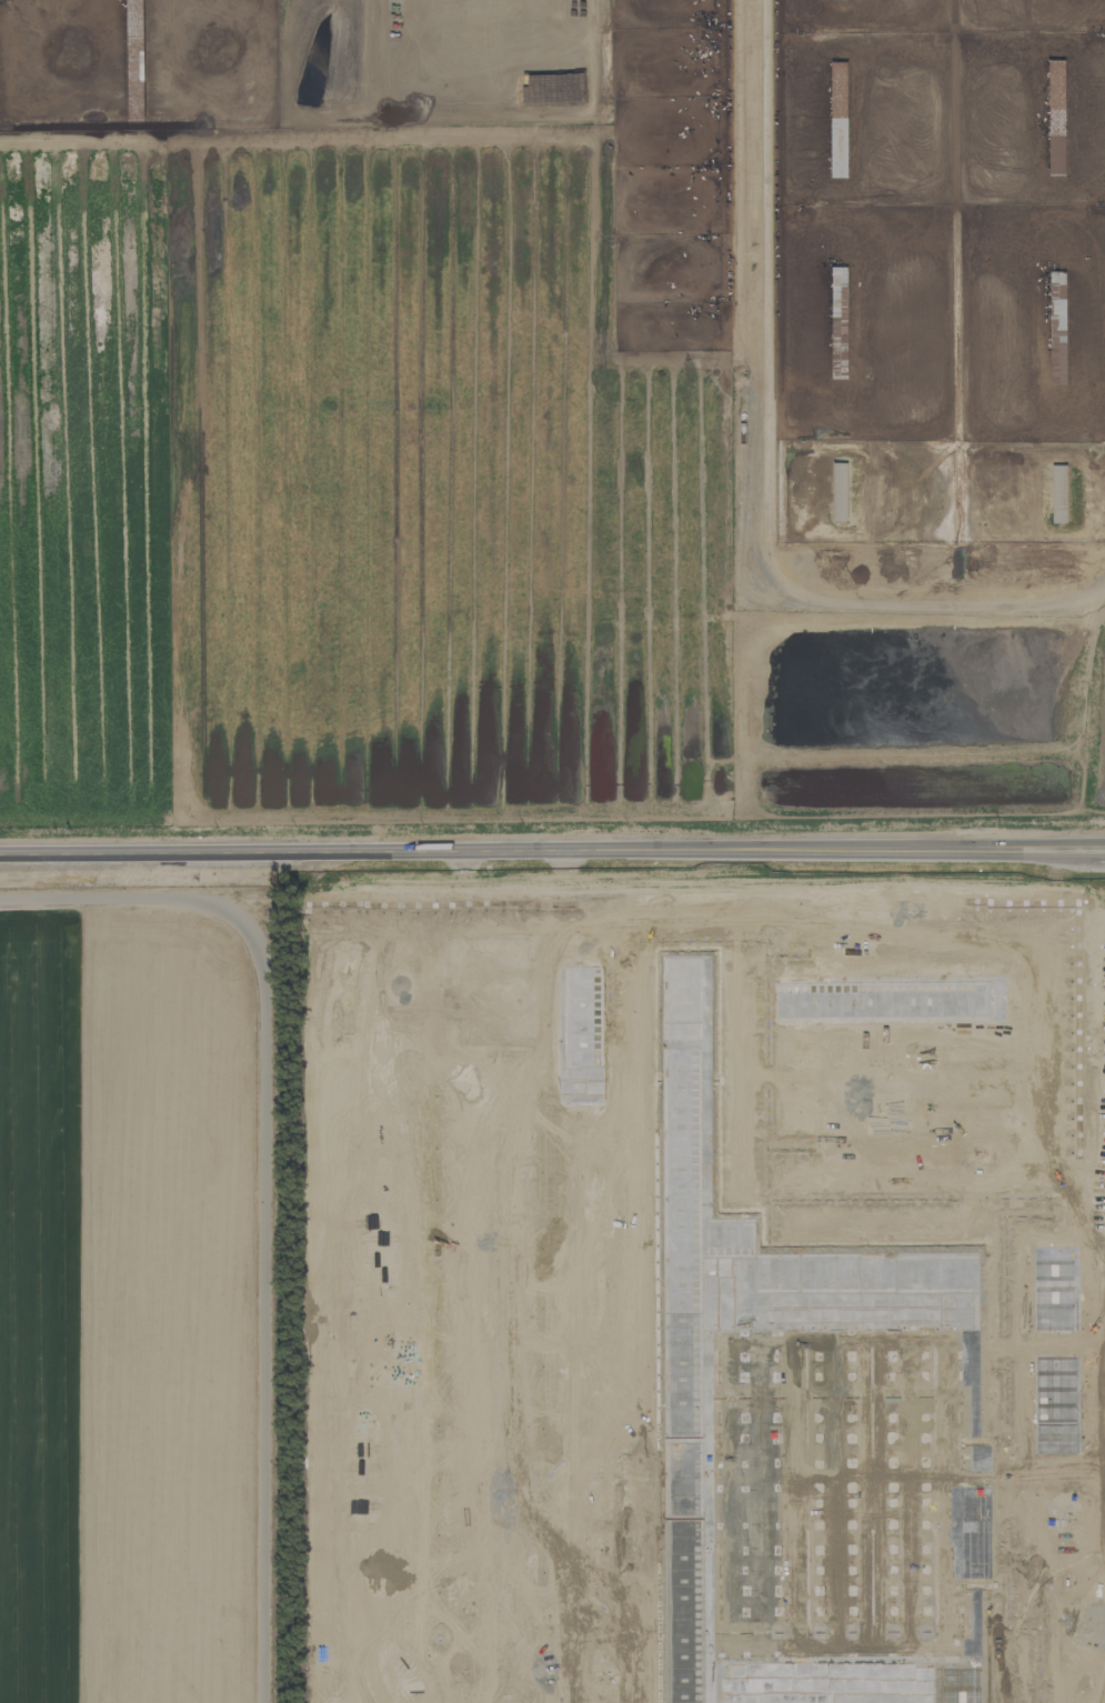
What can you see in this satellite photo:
building: (840, 140)
building: (840, 284)
building: (1057, 299)
building: (1059, 499)
road: (552, 853)
road: (520, 905)
building: (385, 938)
building: (614, 940)
building: (521, 981)
building: (441, 988)
building: (600, 1005)
building: (635, 1125)
building: (523, 1273)
airport: (139, 1295)
building: (525, 1629)

